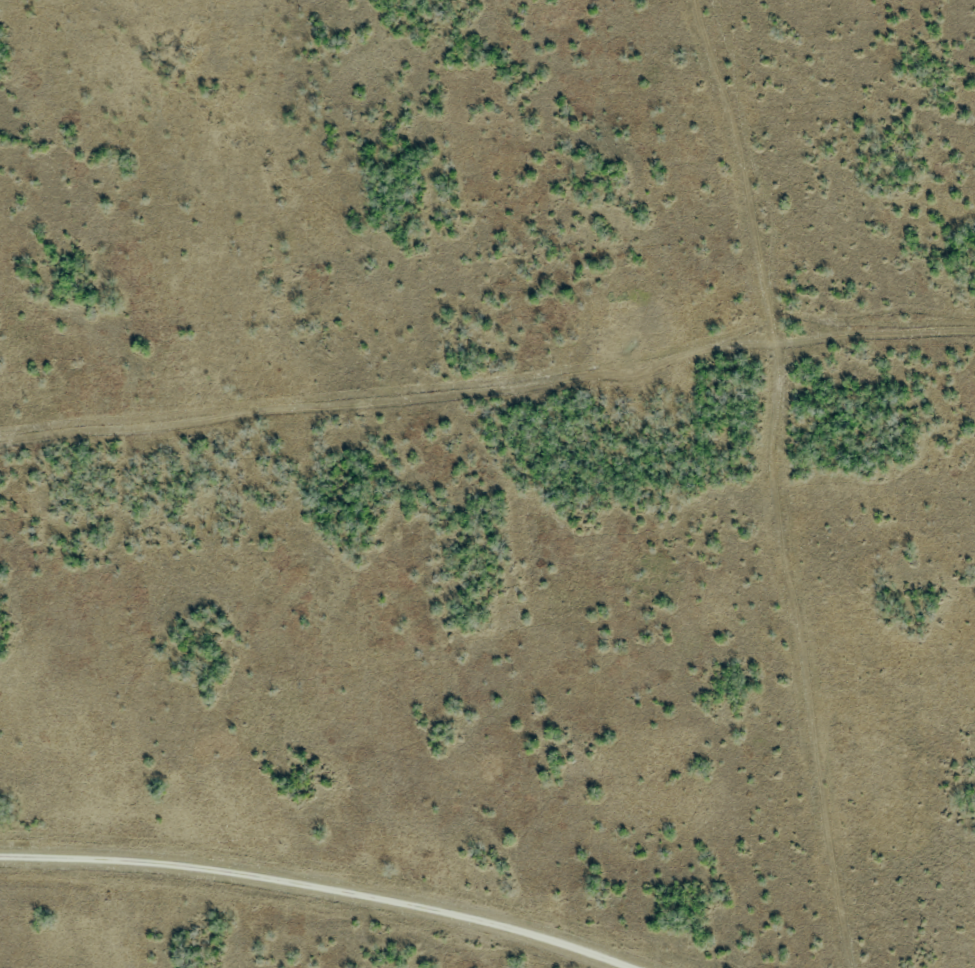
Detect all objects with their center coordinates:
road: (326, 870)

